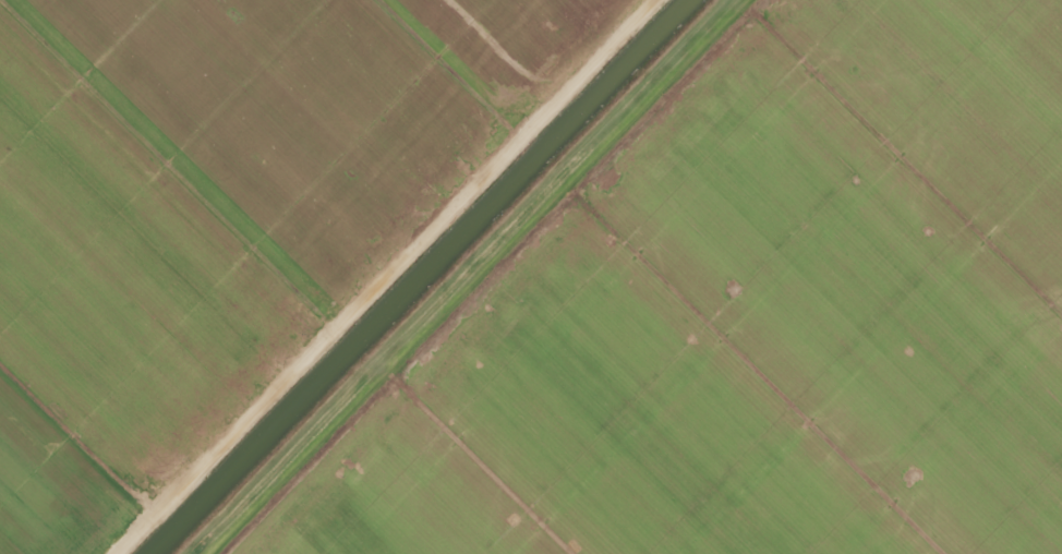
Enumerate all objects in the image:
road: (387, 276)

